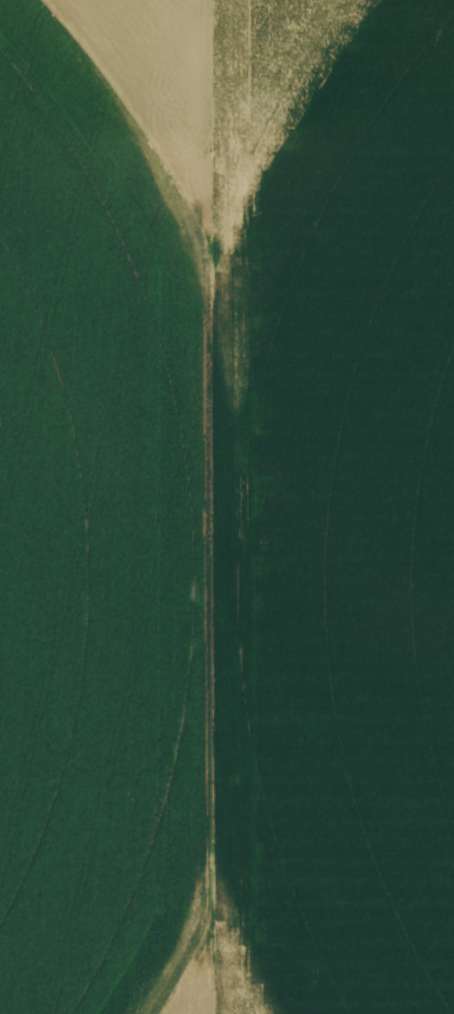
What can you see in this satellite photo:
crop: (227, 507)

